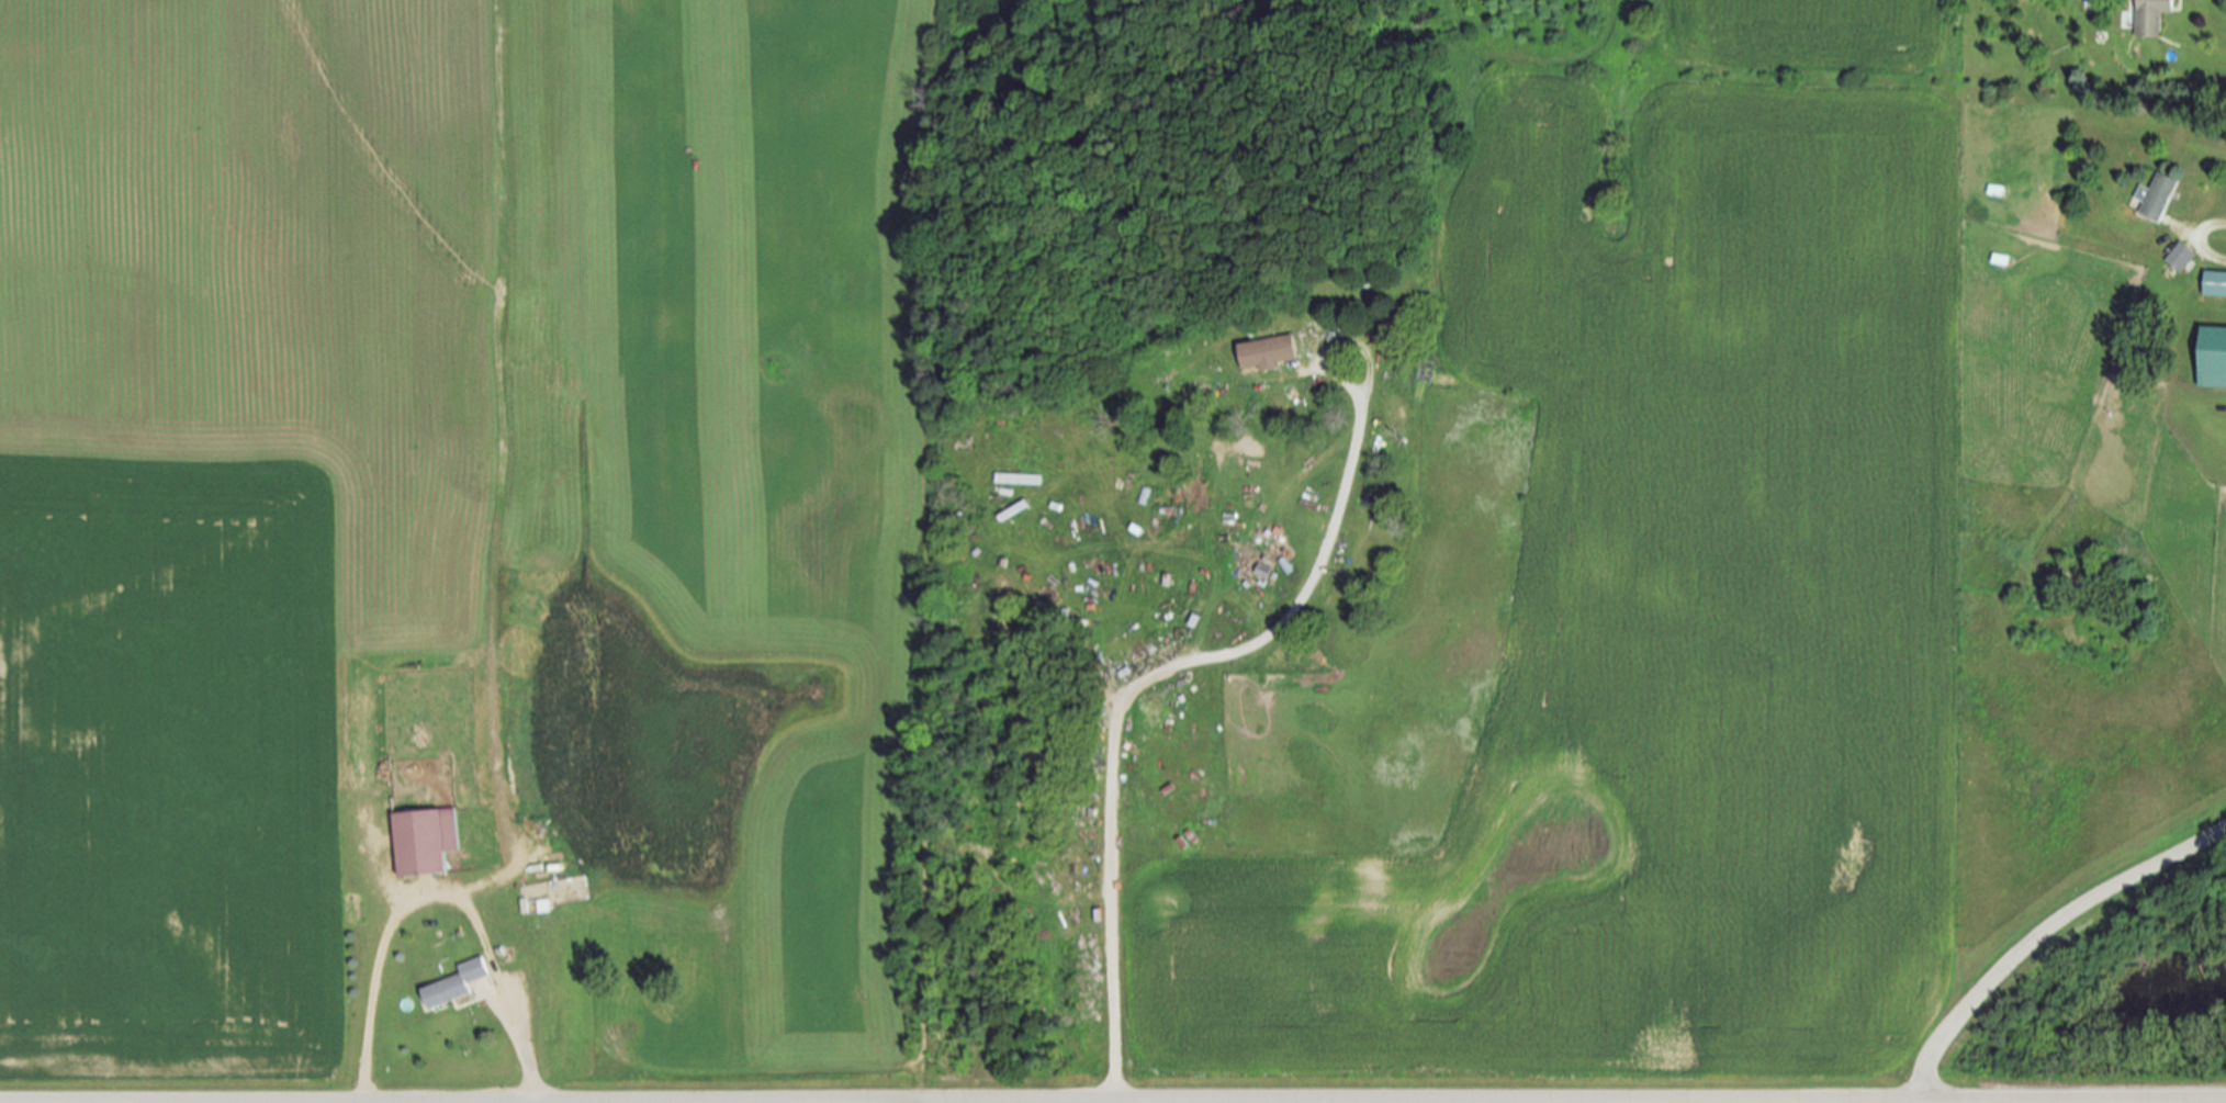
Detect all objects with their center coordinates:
building: (2152, 16)
building: (2158, 195)
road: (2201, 240)
building: (2181, 257)
building: (1269, 352)
building: (2214, 358)
road: (1206, 660)
building: (427, 841)
road: (439, 894)
building: (544, 905)
road: (2042, 933)
building: (459, 983)
road: (1511, 1101)
road: (927, 1102)
road: (1381, 1102)
road: (1862, 1102)

